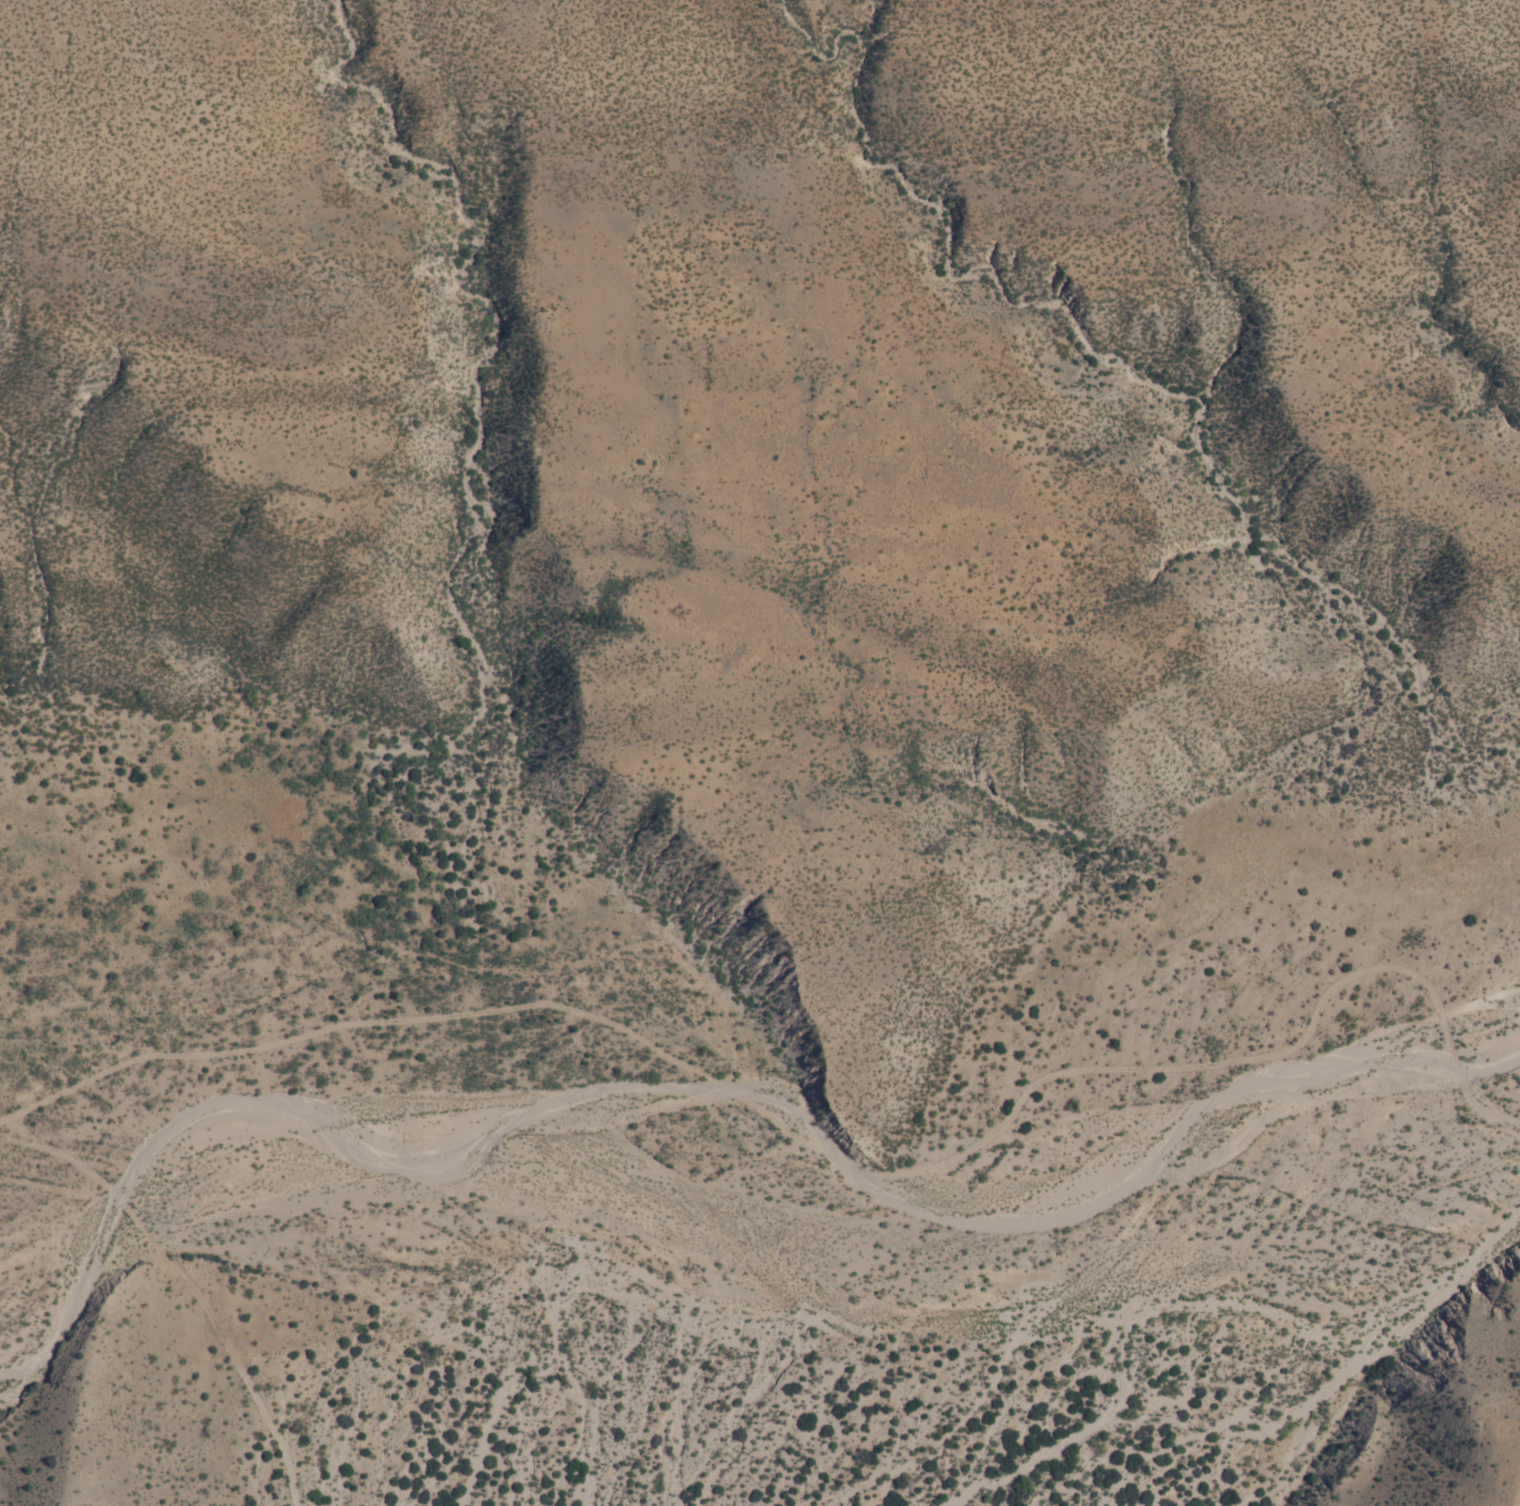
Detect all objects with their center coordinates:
road: (741, 1192)
road: (191, 1284)

